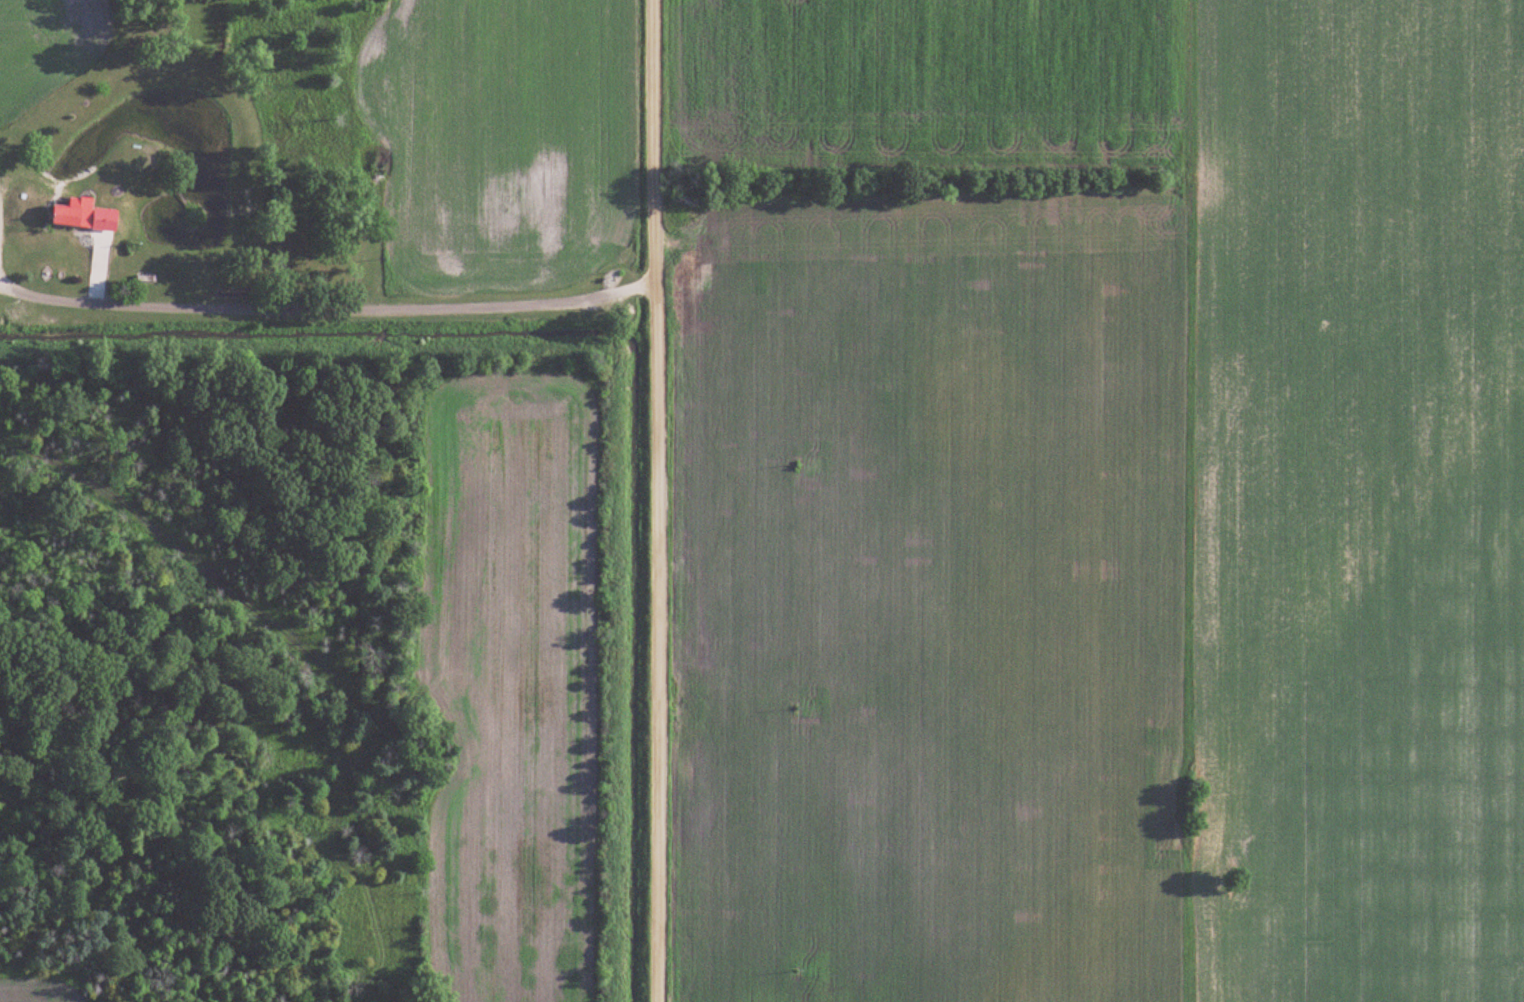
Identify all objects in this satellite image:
building: (75, 213)
road: (325, 307)
road: (663, 500)

